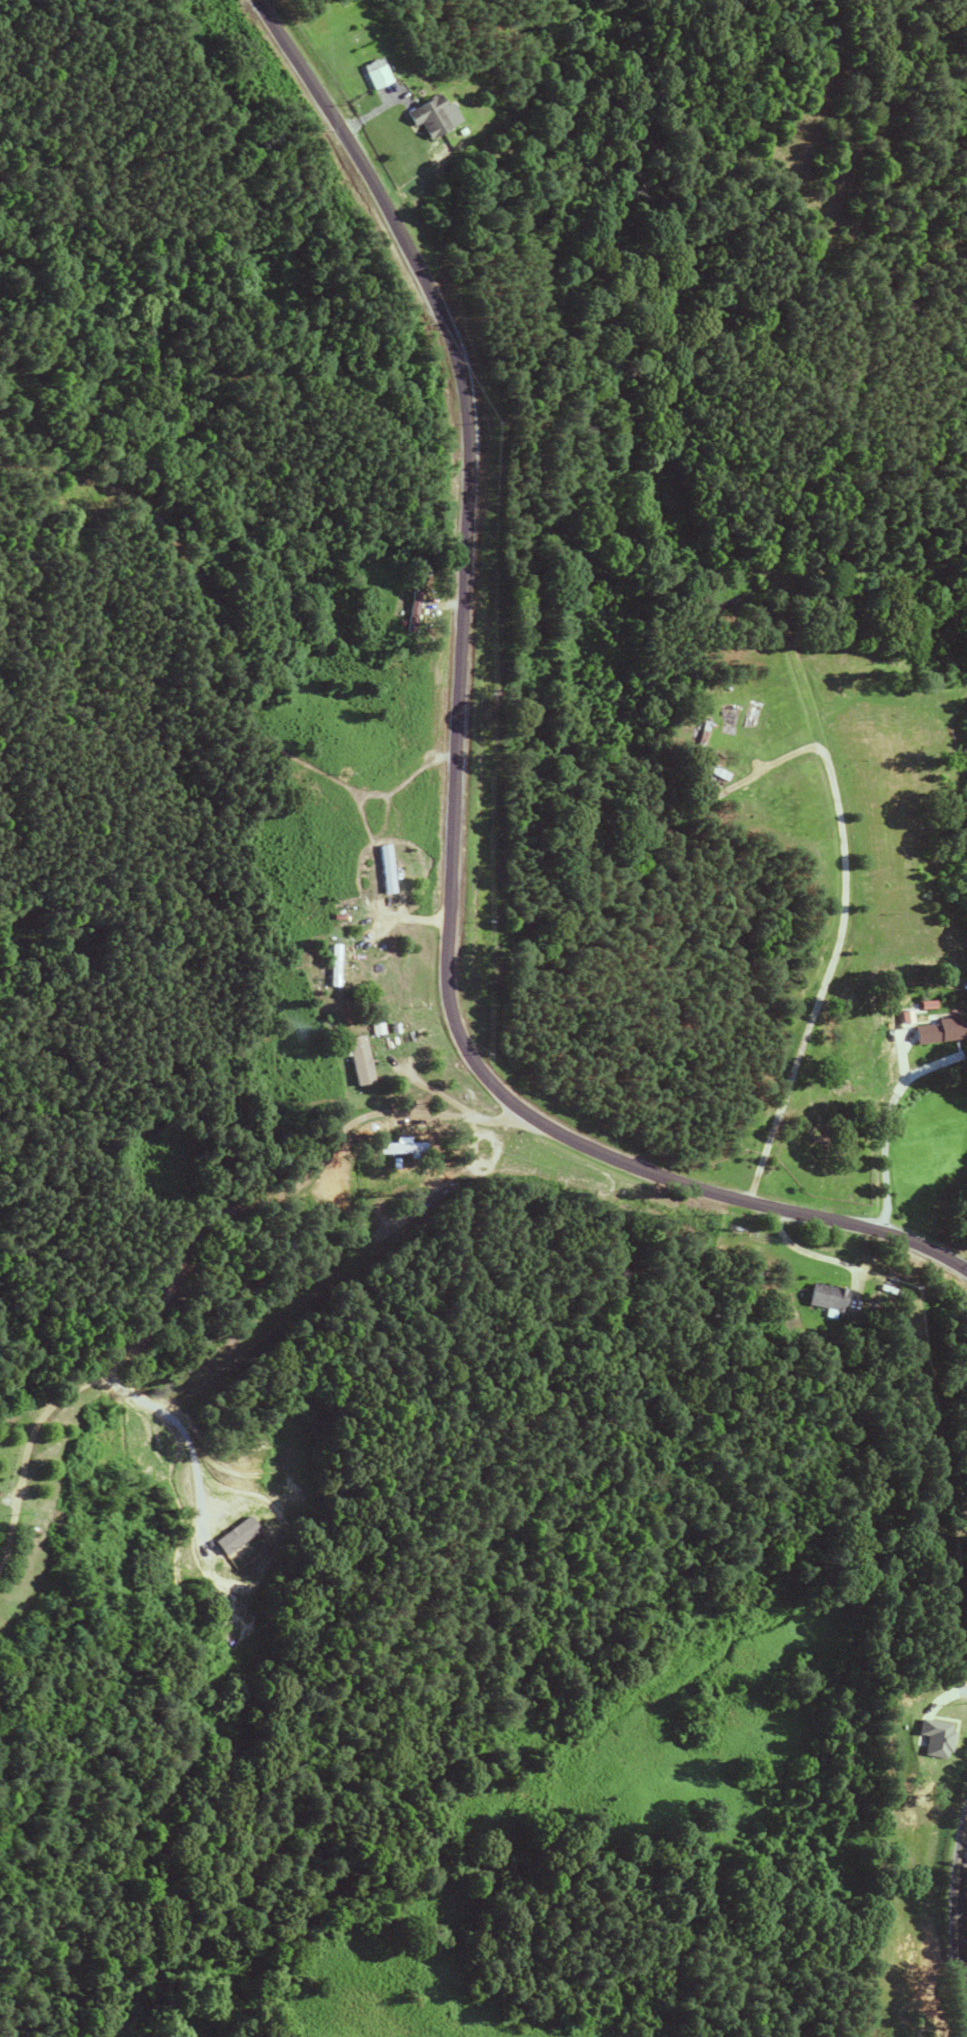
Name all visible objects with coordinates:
building: (370, 73)
building: (424, 116)
building: (407, 610)
building: (709, 769)
road: (498, 801)
building: (385, 869)
road: (839, 946)
building: (332, 966)
road: (236, 1024)
building: (941, 1030)
building: (358, 1060)
building: (821, 1296)
road: (954, 1918)

